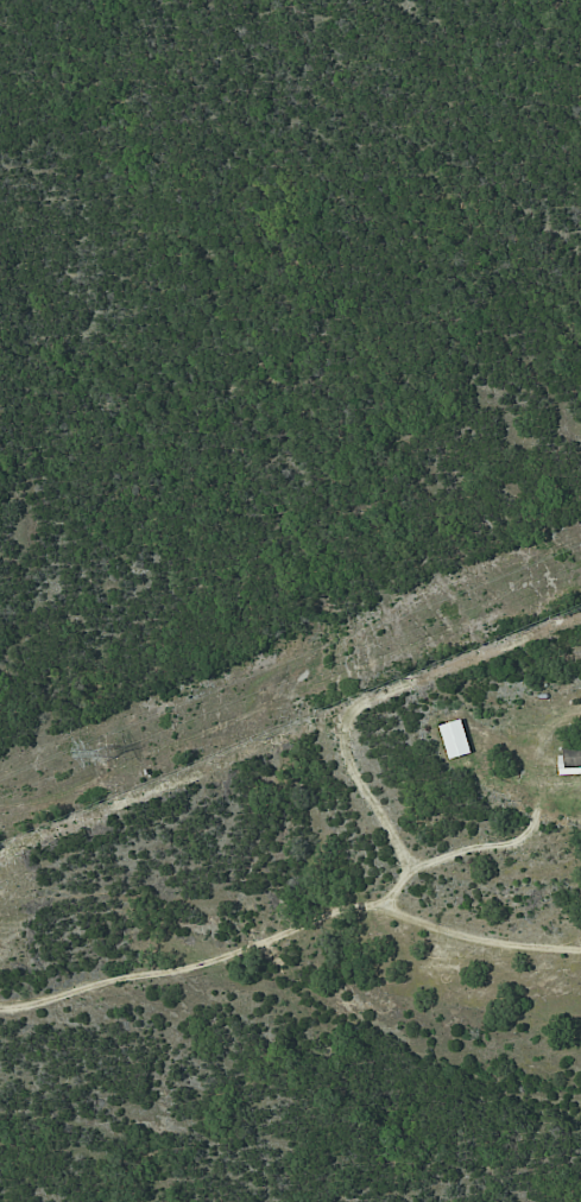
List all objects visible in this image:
building: (456, 739)
power tower: (108, 755)
road: (374, 796)

